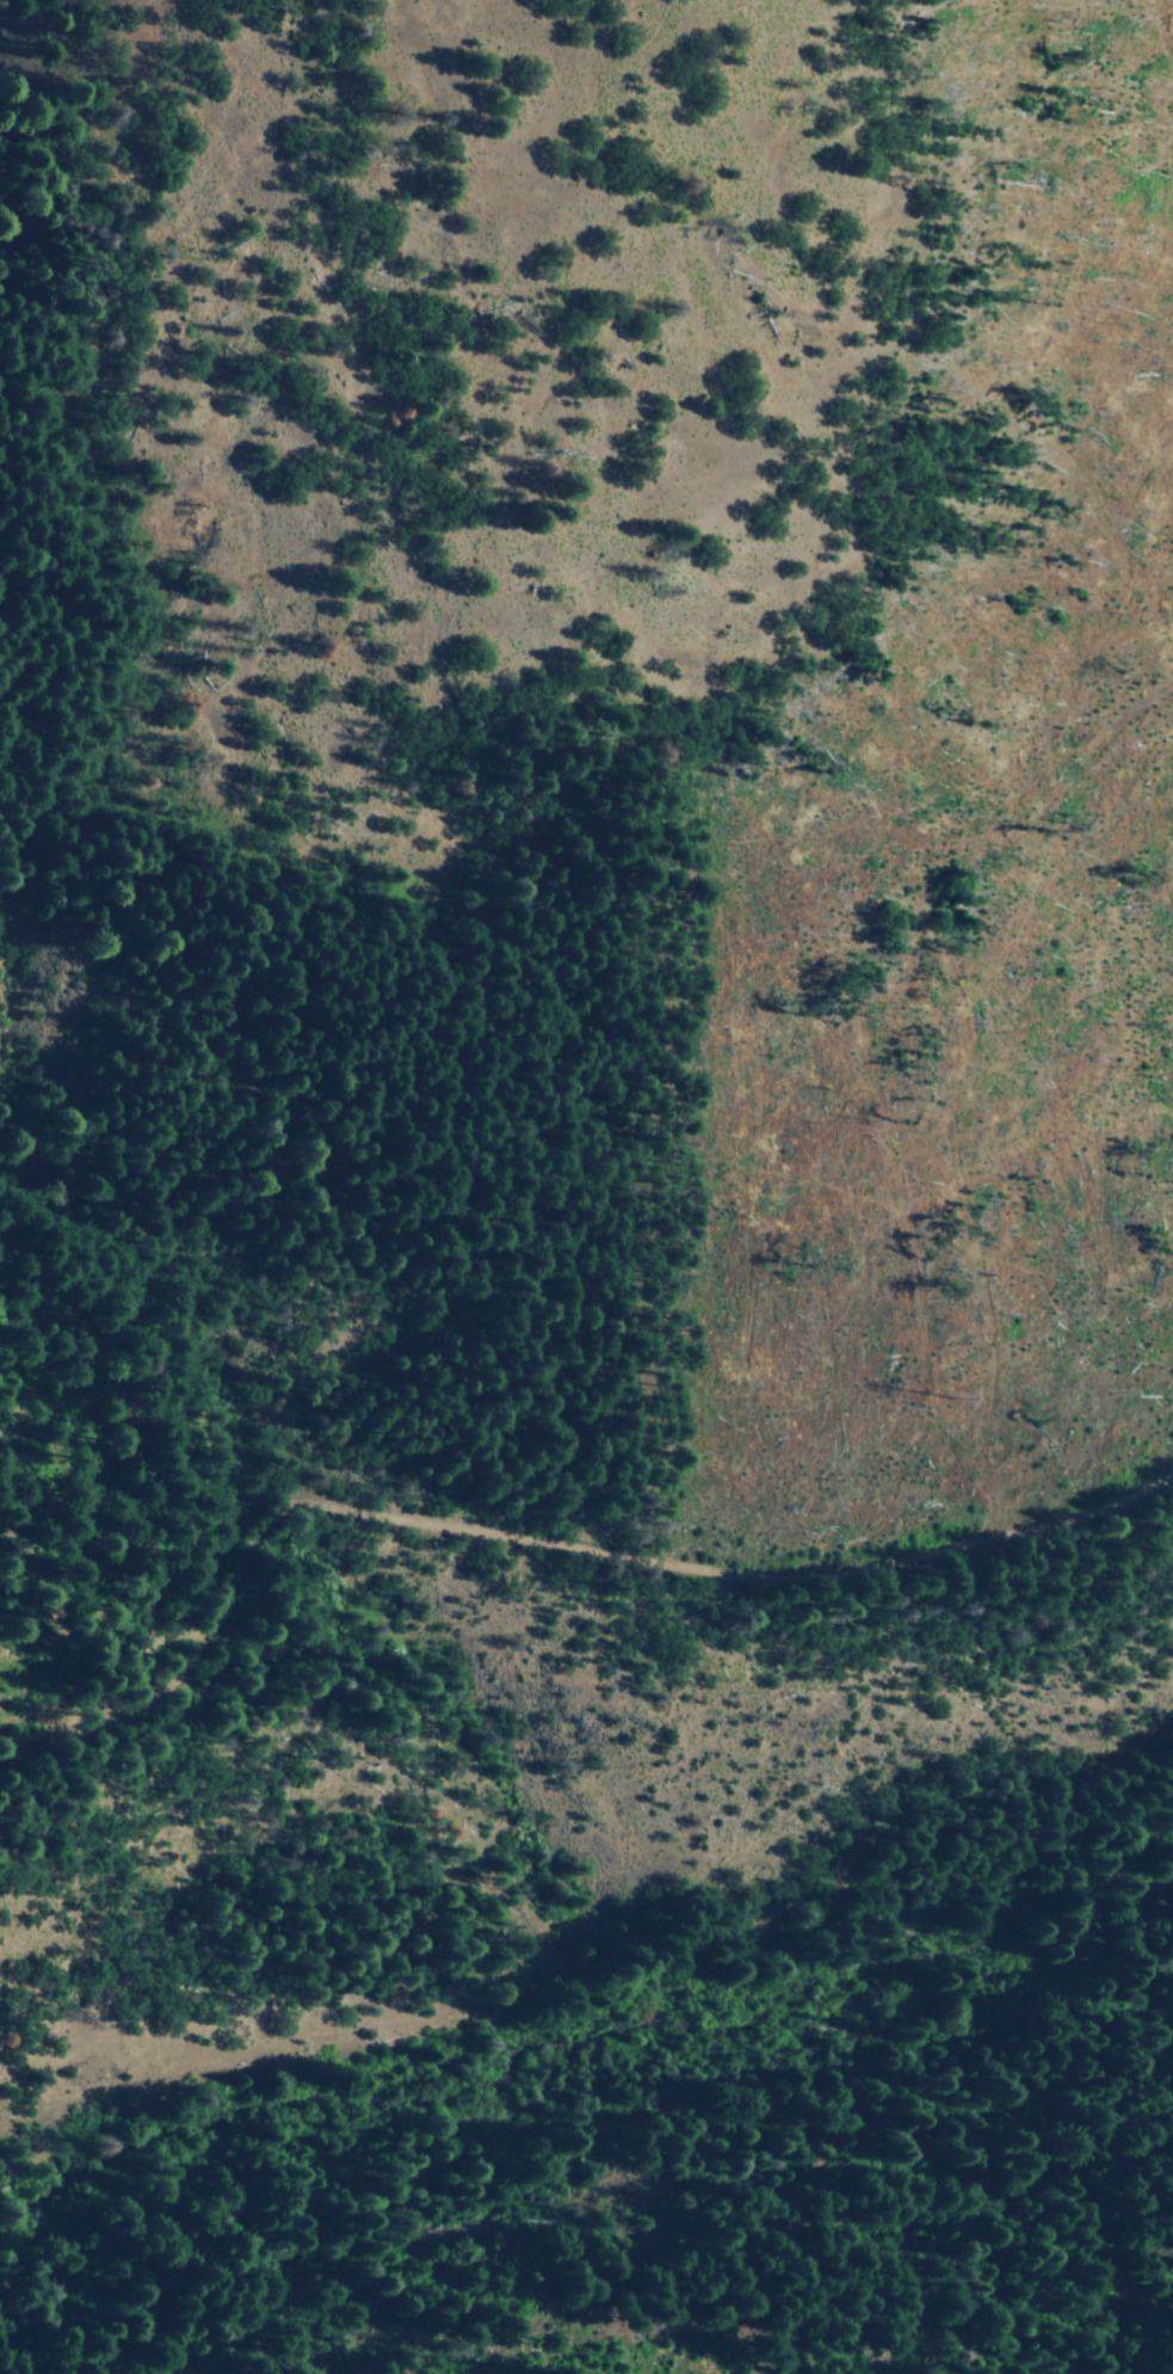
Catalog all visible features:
road: (567, 1537)
road: (48, 1556)
road: (38, 1764)
road: (585, 2093)

